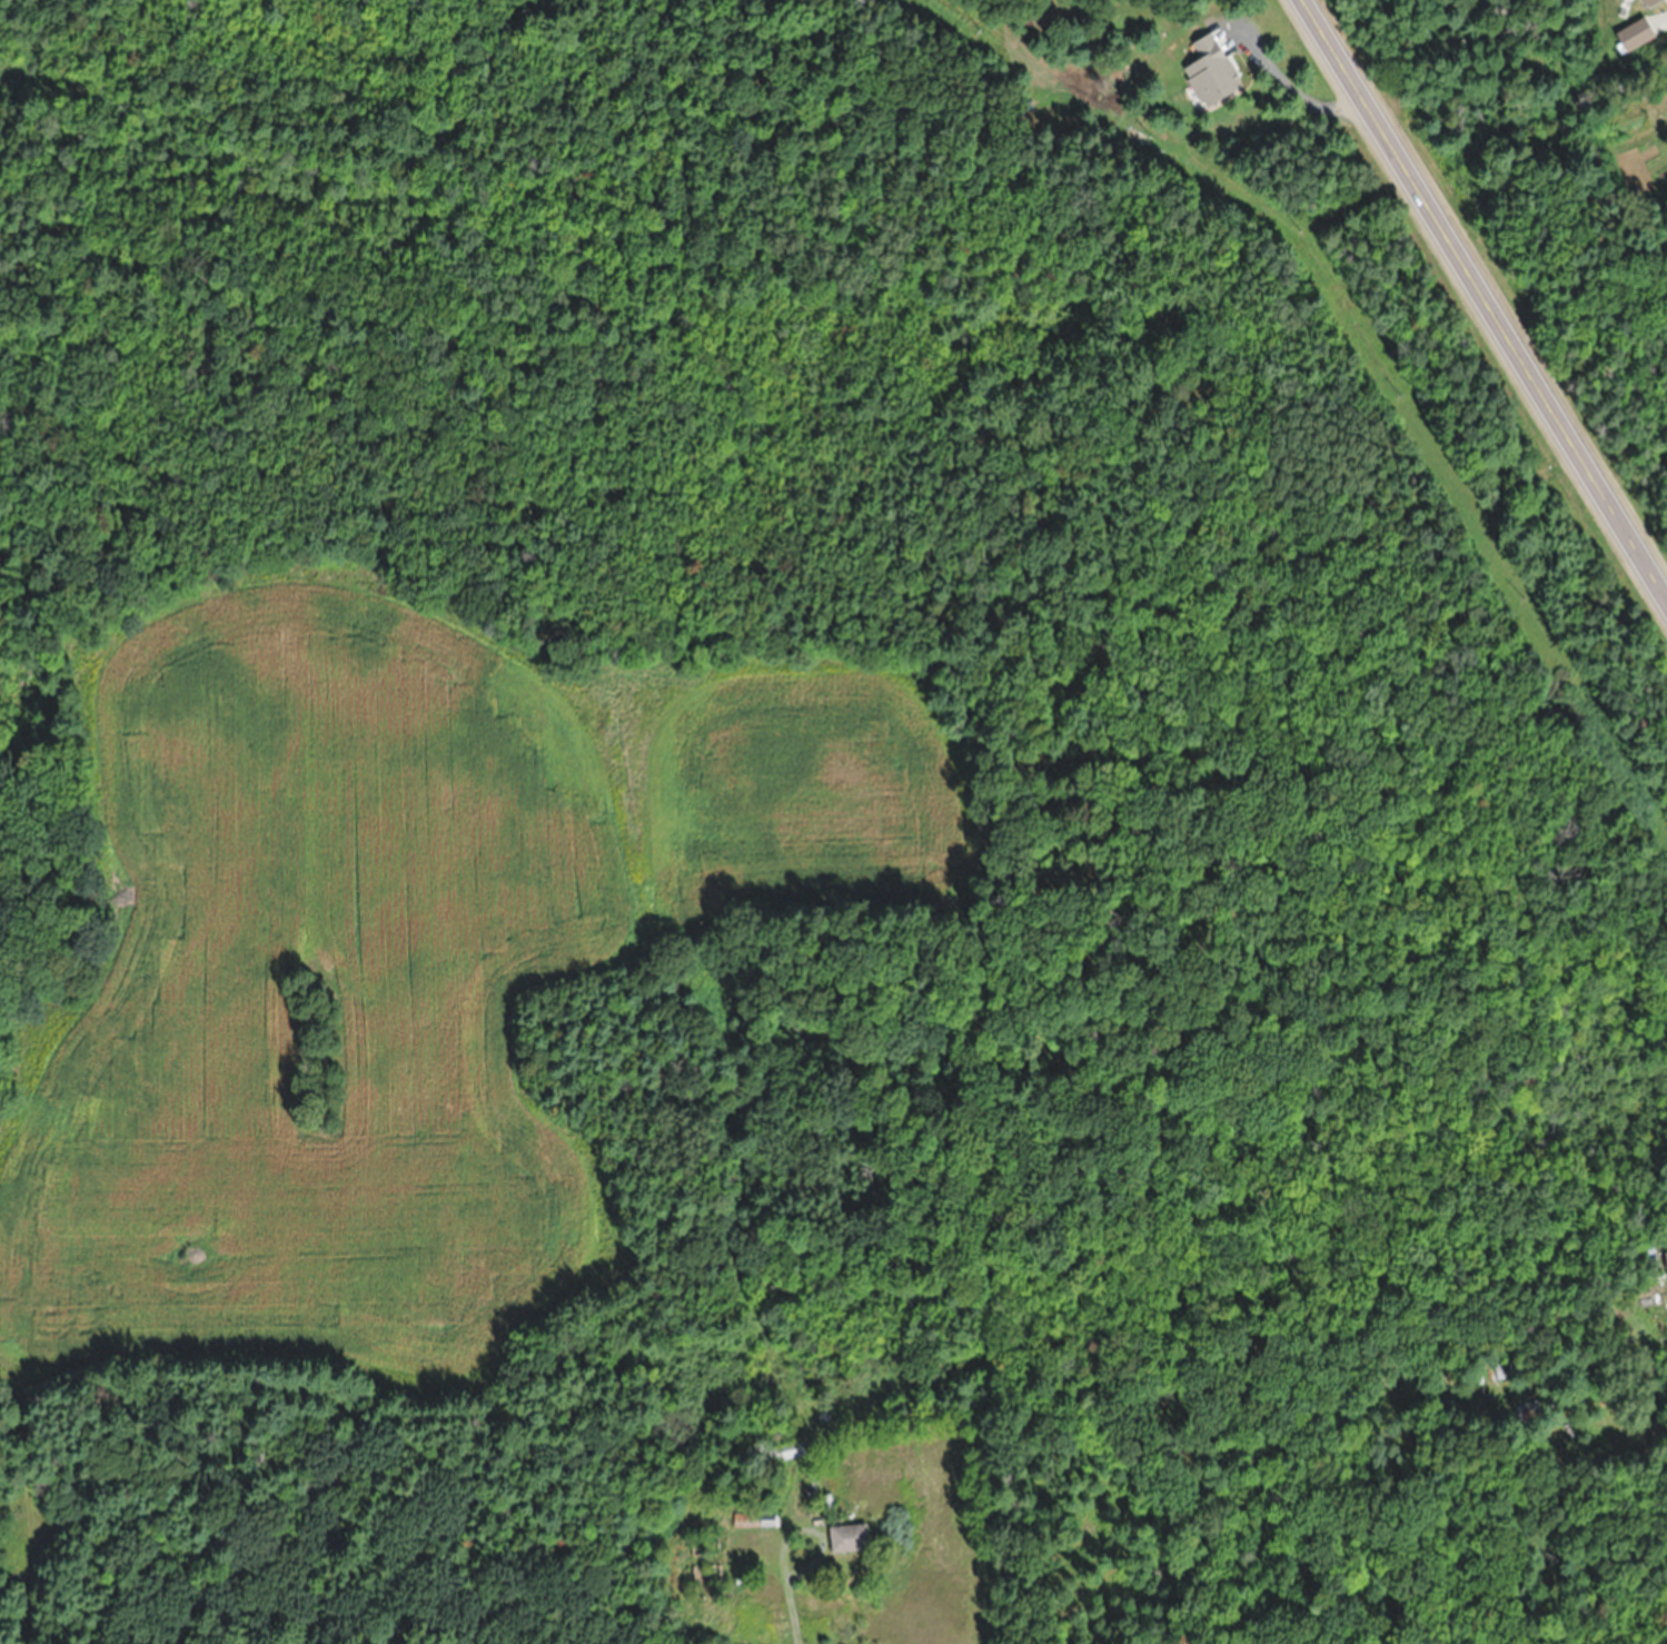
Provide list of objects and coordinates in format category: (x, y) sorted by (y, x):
building: (1649, 2)
building: (1635, 33)
road: (1485, 303)
building: (1666, 1257)
building: (786, 1449)
building: (755, 1518)
building: (849, 1536)

